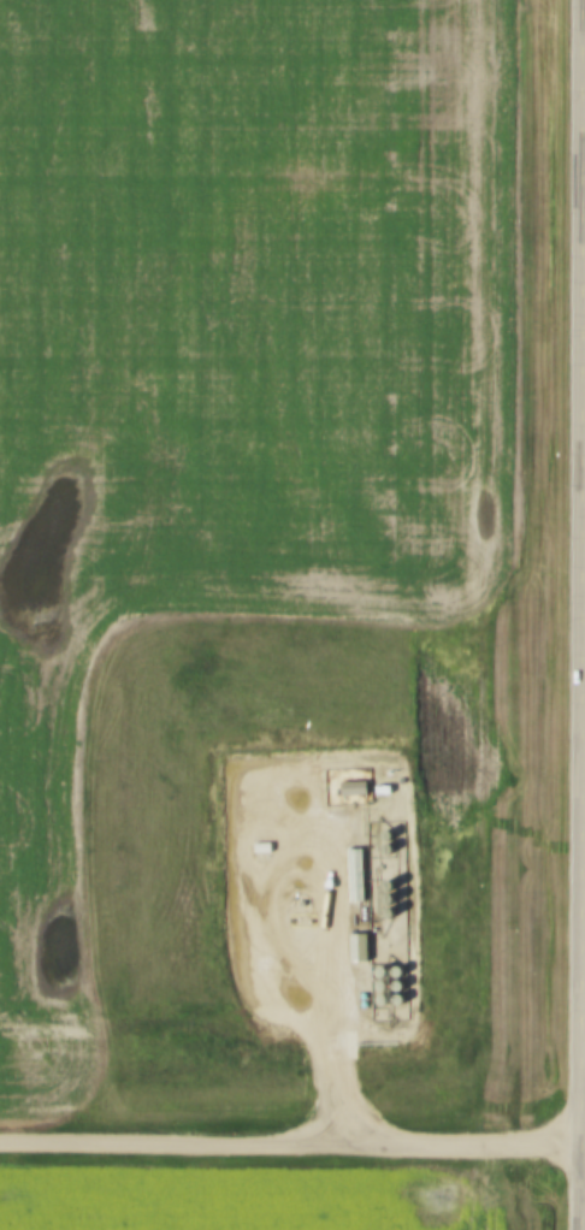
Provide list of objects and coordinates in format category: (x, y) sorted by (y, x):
road: (584, 615)
building: (360, 783)
building: (360, 870)
building: (391, 879)
storage tank: (391, 879)
building: (391, 893)
storage tank: (391, 893)
building: (392, 906)
storage tank: (392, 906)
building: (364, 942)
road: (301, 946)
building: (402, 965)
storage tank: (402, 965)
building: (385, 966)
storage tank: (385, 966)
building: (386, 980)
storage tank: (386, 980)
building: (402, 980)
storage tank: (402, 980)
building: (386, 993)
storage tank: (386, 993)
building: (403, 993)
storage tank: (403, 993)
road: (291, 1143)

